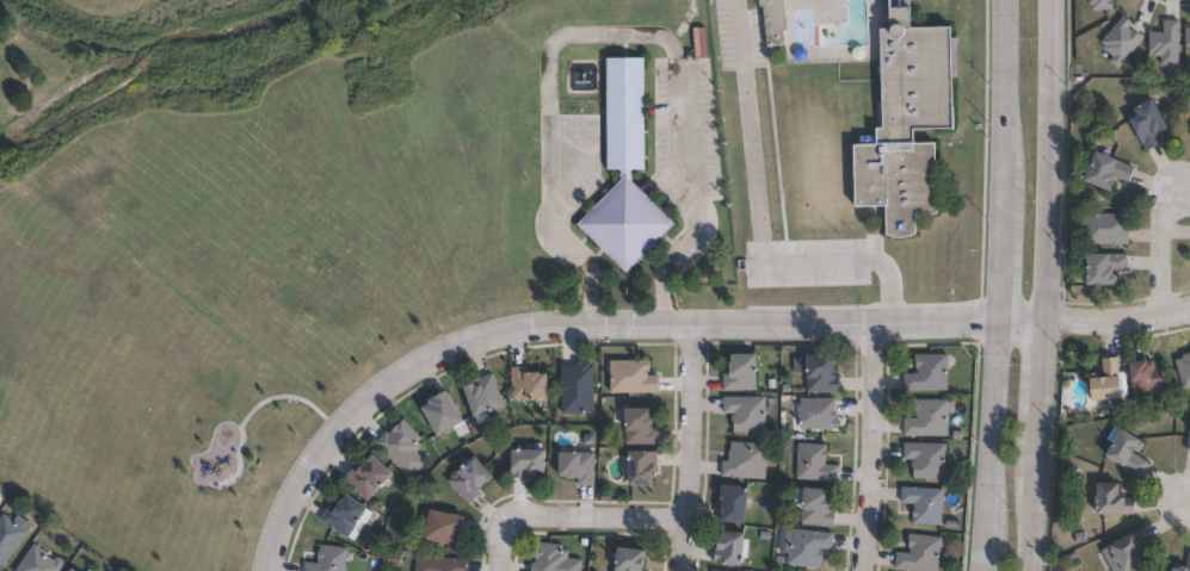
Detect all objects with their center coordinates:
building: (1095, 4)
building: (776, 21)
road: (605, 32)
building: (1184, 41)
building: (1114, 42)
building: (1159, 43)
building: (628, 112)
building: (1147, 123)
building: (912, 125)
building: (1104, 173)
road: (758, 218)
building: (627, 224)
building: (1105, 230)
road: (1163, 252)
park: (181, 265)
building: (1105, 269)
road: (1001, 285)
road: (1042, 285)
road: (576, 328)
road: (1096, 328)
building: (1183, 370)
building: (819, 371)
building: (741, 372)
building: (929, 373)
building: (1146, 376)
building: (633, 377)
building: (1106, 380)
building: (526, 384)
building: (578, 387)
building: (483, 397)
building: (746, 412)
building: (444, 414)
building: (815, 414)
building: (929, 418)
building: (640, 427)
building: (1188, 441)
road: (874, 447)
building: (402, 448)
road: (691, 448)
building: (1126, 449)
building: (926, 459)
building: (746, 460)
building: (528, 463)
building: (815, 463)
building: (578, 466)
building: (642, 466)
building: (368, 477)
building: (469, 478)
building: (1114, 499)
building: (734, 503)
building: (925, 503)
road: (1189, 503)
building: (815, 505)
building: (346, 515)
road: (572, 519)
building: (444, 527)
building: (8, 536)
building: (732, 547)
building: (808, 547)
building: (1124, 551)
building: (920, 554)
building: (1188, 558)
building: (328, 559)
building: (554, 559)
building: (630, 559)
building: (39, 561)
building: (439, 563)
building: (70, 570)
building: (715, 570)

